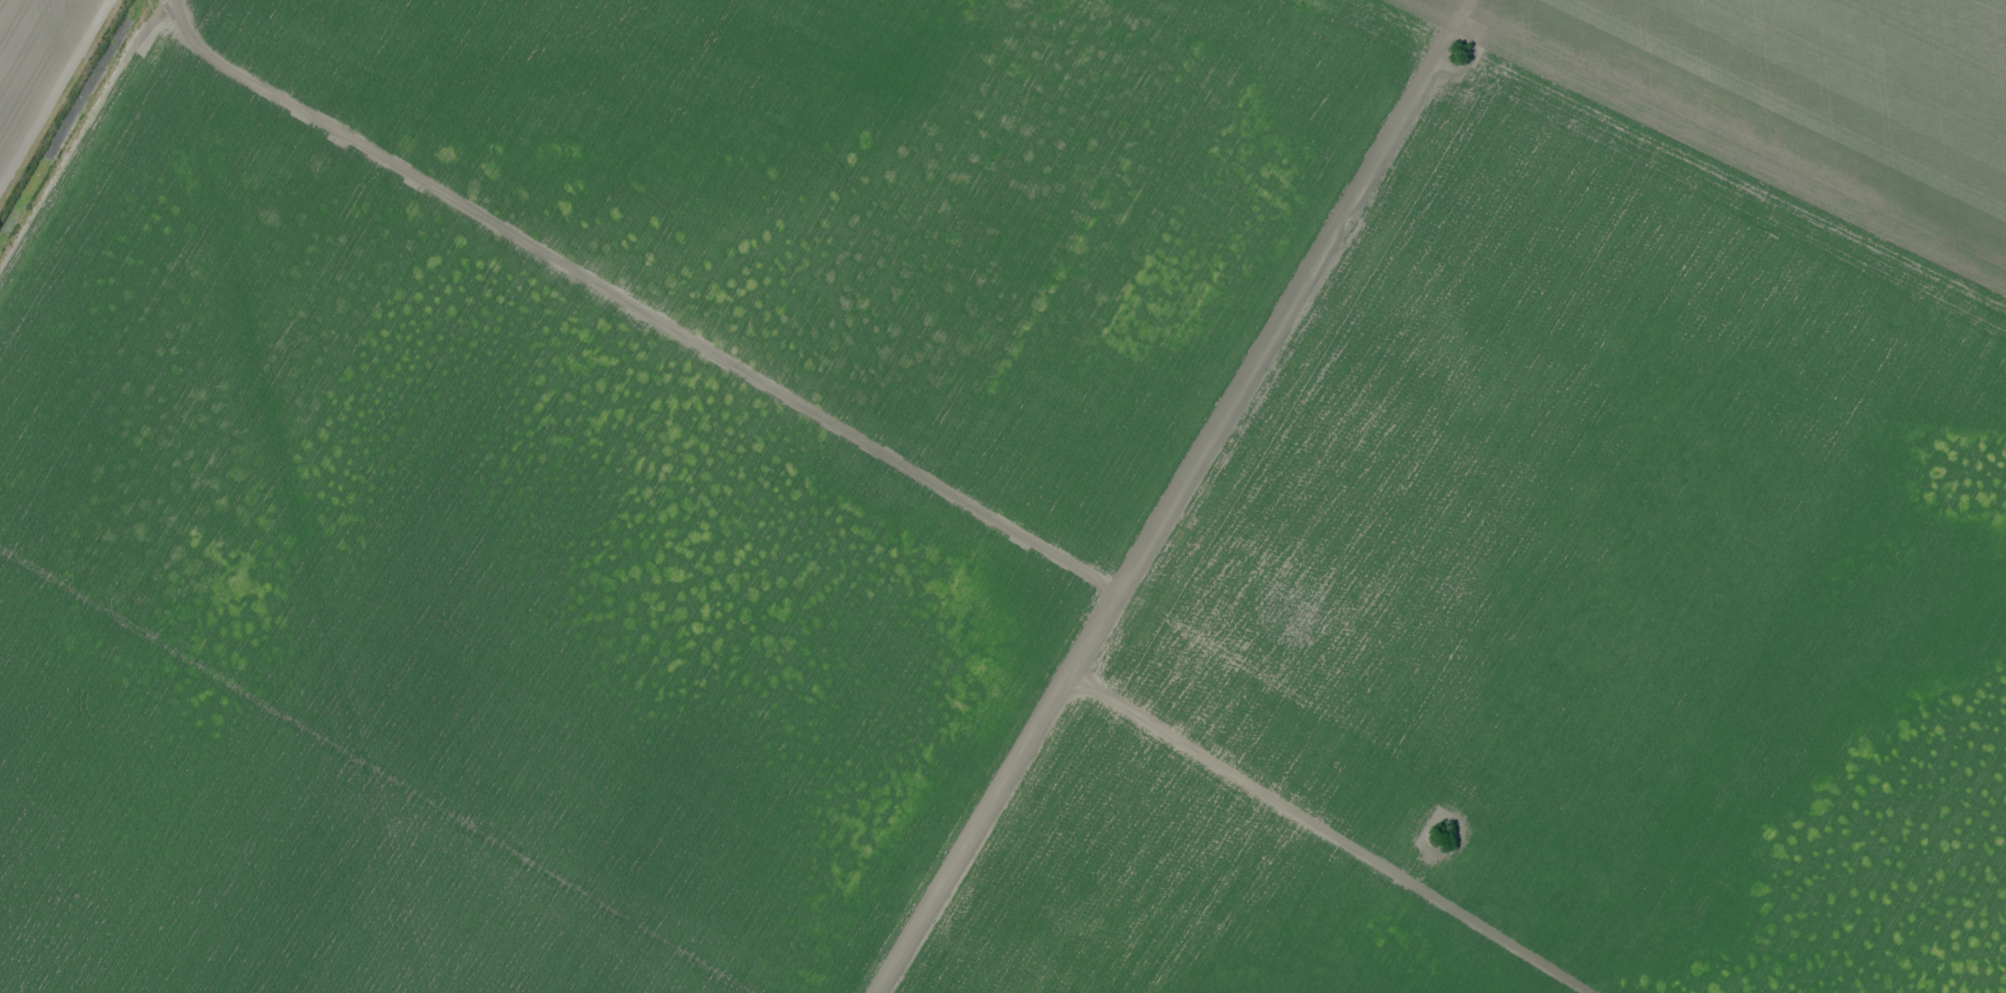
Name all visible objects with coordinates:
road: (58, 98)

